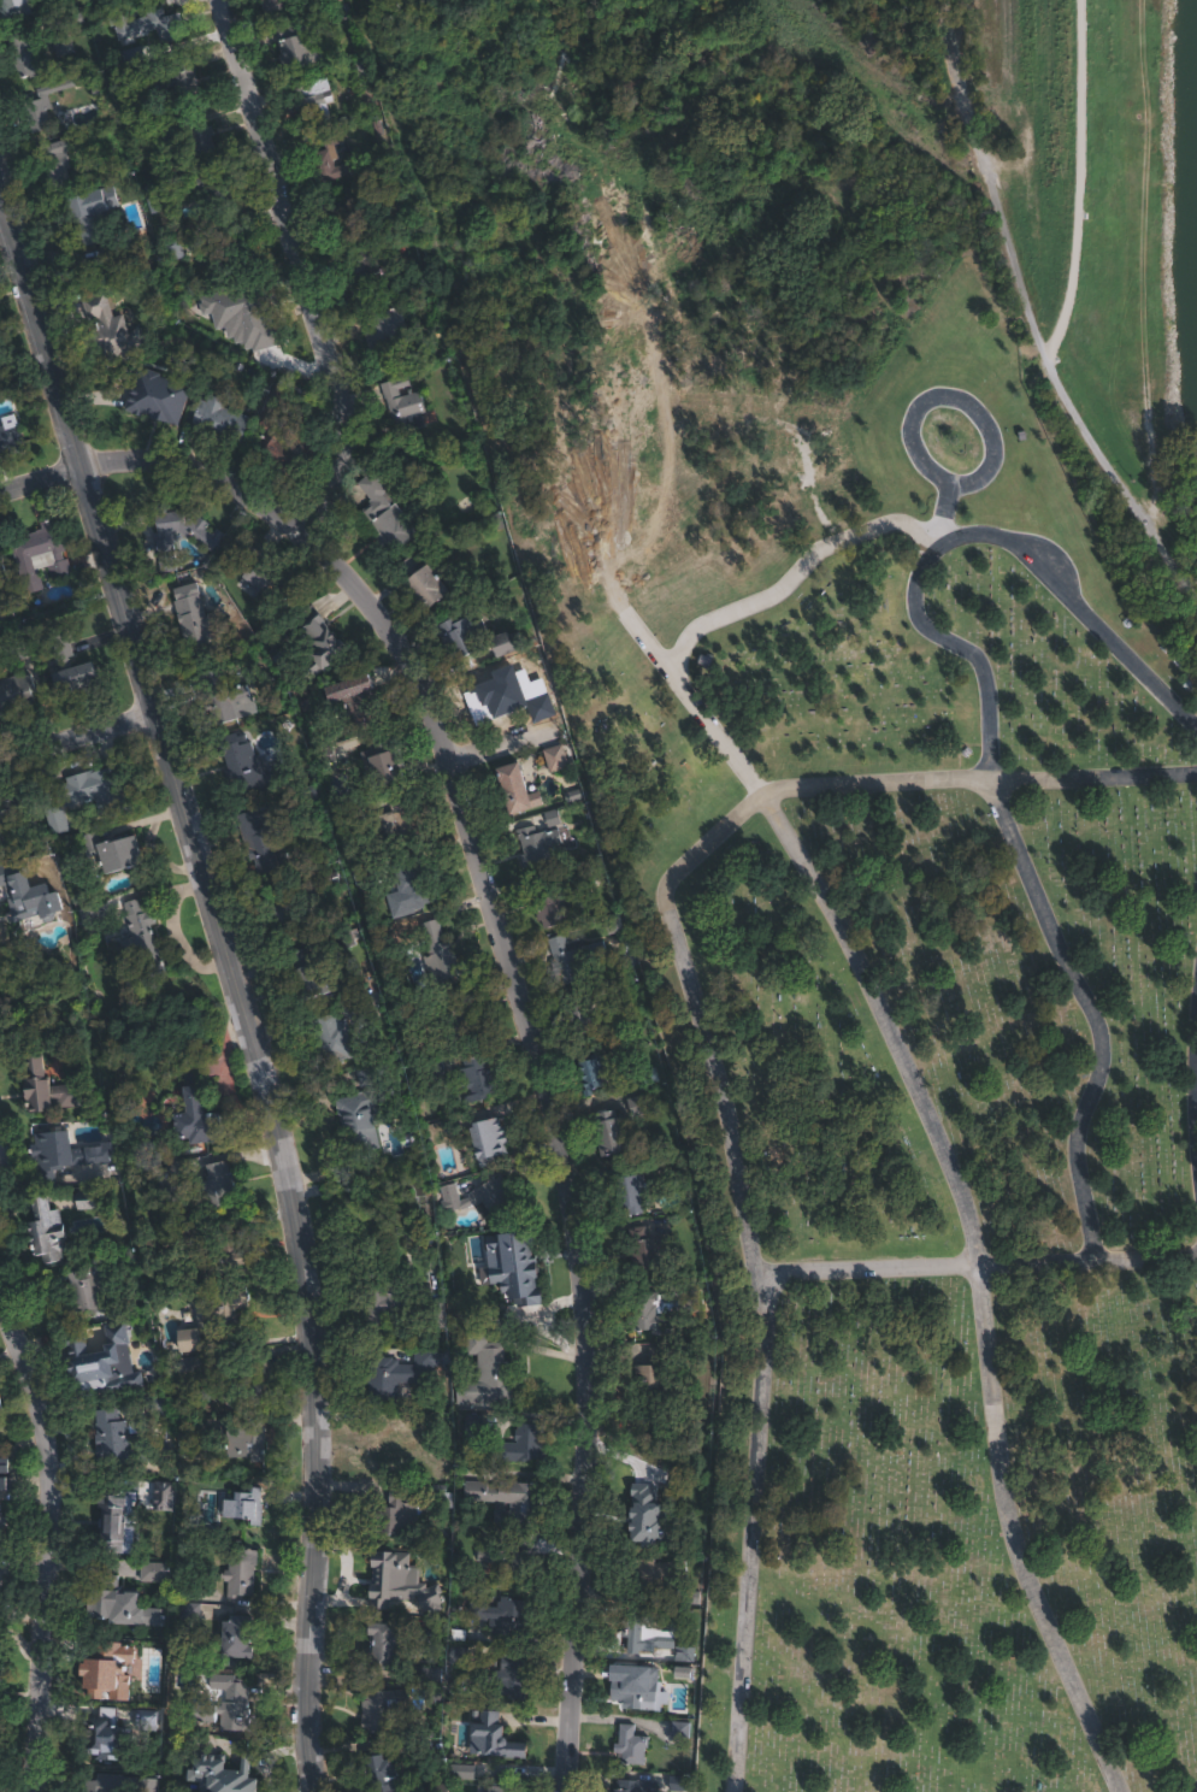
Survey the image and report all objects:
building: (325, 1)
building: (275, 5)
building: (13, 10)
building: (147, 25)
building: (60, 46)
building: (295, 46)
building: (25, 53)
building: (178, 81)
building: (313, 102)
building: (41, 105)
building: (189, 135)
building: (328, 161)
building: (57, 163)
road: (1079, 179)
building: (207, 190)
building: (89, 212)
building: (348, 214)
building: (229, 246)
building: (171, 249)
building: (108, 252)
building: (364, 271)
building: (249, 313)
road: (1027, 318)
building: (106, 325)
building: (382, 342)
building: (281, 391)
building: (158, 396)
road: (972, 396)
building: (405, 406)
building: (219, 422)
building: (8, 435)
building: (277, 450)
road: (155, 458)
building: (384, 515)
building: (183, 535)
building: (39, 555)
road: (777, 578)
building: (265, 579)
building: (419, 583)
building: (197, 620)
road: (649, 626)
building: (319, 638)
road: (966, 638)
building: (458, 639)
building: (503, 643)
road: (1114, 643)
building: (19, 648)
building: (72, 670)
building: (542, 674)
building: (530, 683)
building: (487, 692)
building: (16, 694)
building: (224, 696)
building: (364, 702)
road: (76, 737)
road: (505, 742)
building: (553, 759)
building: (384, 762)
building: (244, 766)
building: (513, 789)
building: (87, 795)
building: (309, 795)
building: (8, 812)
building: (350, 814)
building: (399, 824)
building: (0, 830)
building: (260, 841)
building: (537, 844)
building: (113, 851)
road: (477, 862)
building: (362, 874)
building: (590, 874)
park: (856, 879)
building: (414, 883)
building: (30, 892)
building: (552, 900)
building: (294, 904)
building: (400, 933)
building: (141, 941)
building: (440, 954)
building: (572, 957)
building: (306, 974)
road: (237, 988)
building: (582, 1013)
road: (1101, 1013)
building: (448, 1015)
building: (334, 1042)
building: (61, 1056)
road: (719, 1057)
building: (591, 1072)
building: (187, 1073)
building: (370, 1075)
building: (645, 1075)
building: (477, 1078)
building: (47, 1089)
building: (636, 1106)
building: (364, 1116)
building: (195, 1120)
building: (444, 1130)
building: (608, 1132)
building: (485, 1139)
building: (137, 1150)
building: (59, 1156)
building: (631, 1185)
building: (206, 1187)
building: (482, 1197)
building: (367, 1198)
building: (83, 1201)
building: (42, 1233)
building: (177, 1237)
building: (224, 1252)
building: (647, 1252)
road: (1092, 1262)
road: (874, 1267)
building: (503, 1274)
road: (989, 1277)
building: (90, 1289)
building: (383, 1307)
building: (664, 1307)
building: (224, 1311)
building: (436, 1314)
building: (189, 1339)
building: (99, 1361)
building: (485, 1370)
building: (222, 1372)
building: (400, 1374)
building: (653, 1380)
building: (153, 1405)
building: (0, 1408)
building: (435, 1420)
building: (471, 1426)
building: (113, 1440)
building: (525, 1443)
building: (195, 1444)
building: (393, 1451)
building: (4, 1473)
building: (509, 1499)
building: (243, 1503)
road: (47, 1511)
building: (110, 1514)
building: (0, 1515)
building: (396, 1516)
building: (644, 1520)
building: (1, 1528)
building: (512, 1561)
building: (240, 1572)
building: (384, 1572)
building: (638, 1575)
building: (123, 1593)
building: (189, 1610)
building: (503, 1615)
building: (643, 1633)
building: (235, 1639)
building: (382, 1646)
building: (458, 1655)
building: (680, 1656)
building: (107, 1670)
building: (682, 1670)
building: (431, 1672)
building: (512, 1678)
building: (638, 1687)
building: (224, 1703)
building: (387, 1710)
building: (125, 1715)
building: (678, 1729)
building: (99, 1738)
building: (491, 1738)
building: (630, 1745)
building: (461, 1772)
building: (220, 1774)
building: (382, 1774)
building: (678, 1782)
building: (143, 1785)
building: (502, 1785)
building: (105, 1786)
building: (635, 1786)

